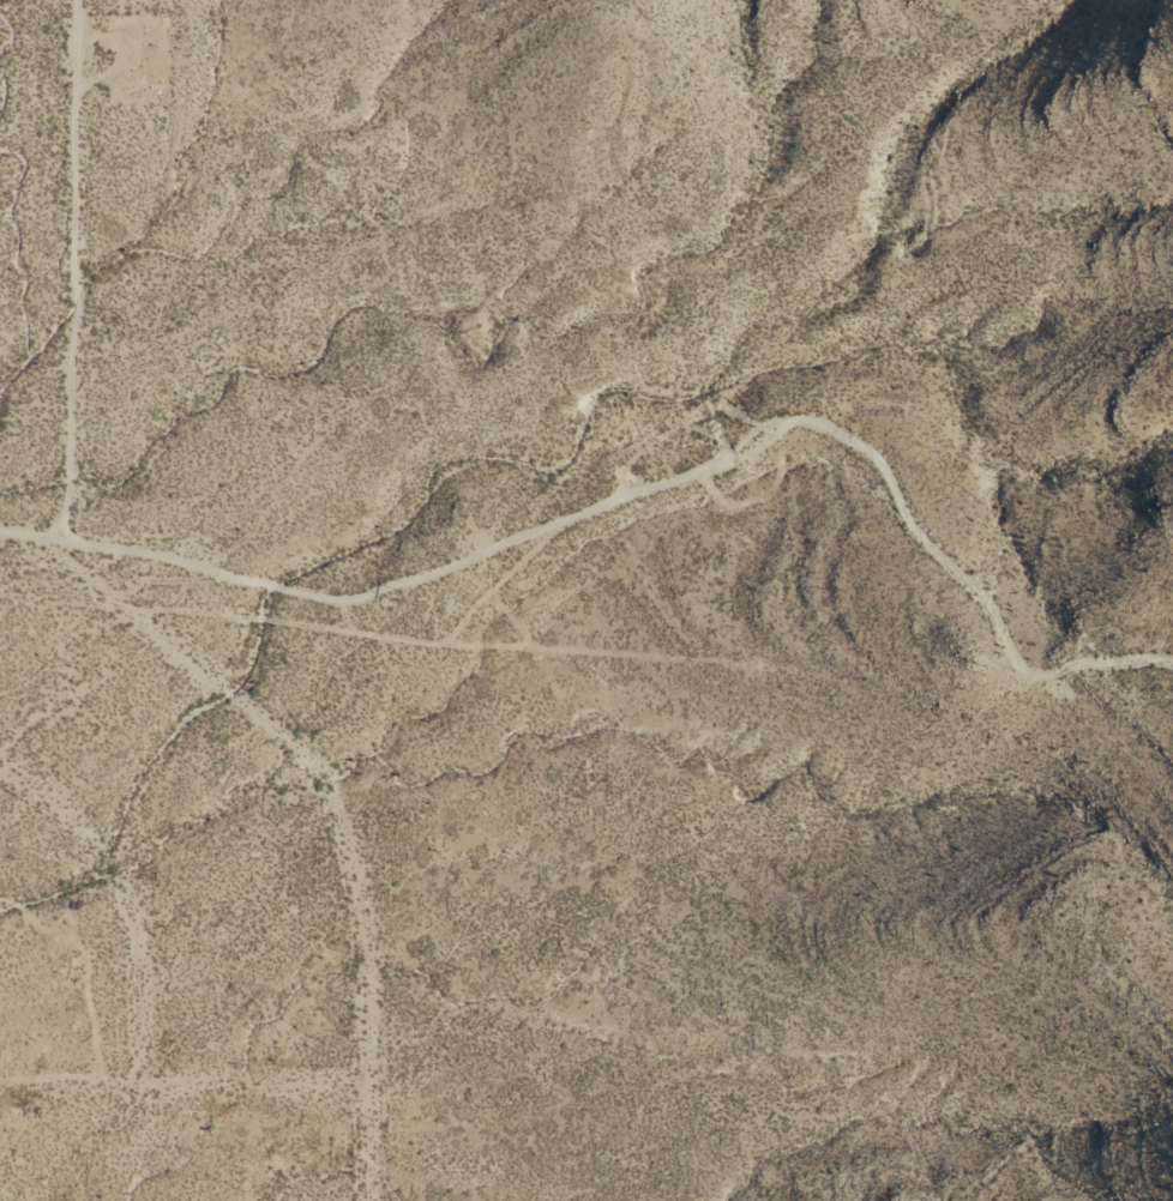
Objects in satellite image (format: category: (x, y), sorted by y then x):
road: (31, 537)
road: (148, 627)
road: (127, 895)
road: (181, 1081)

